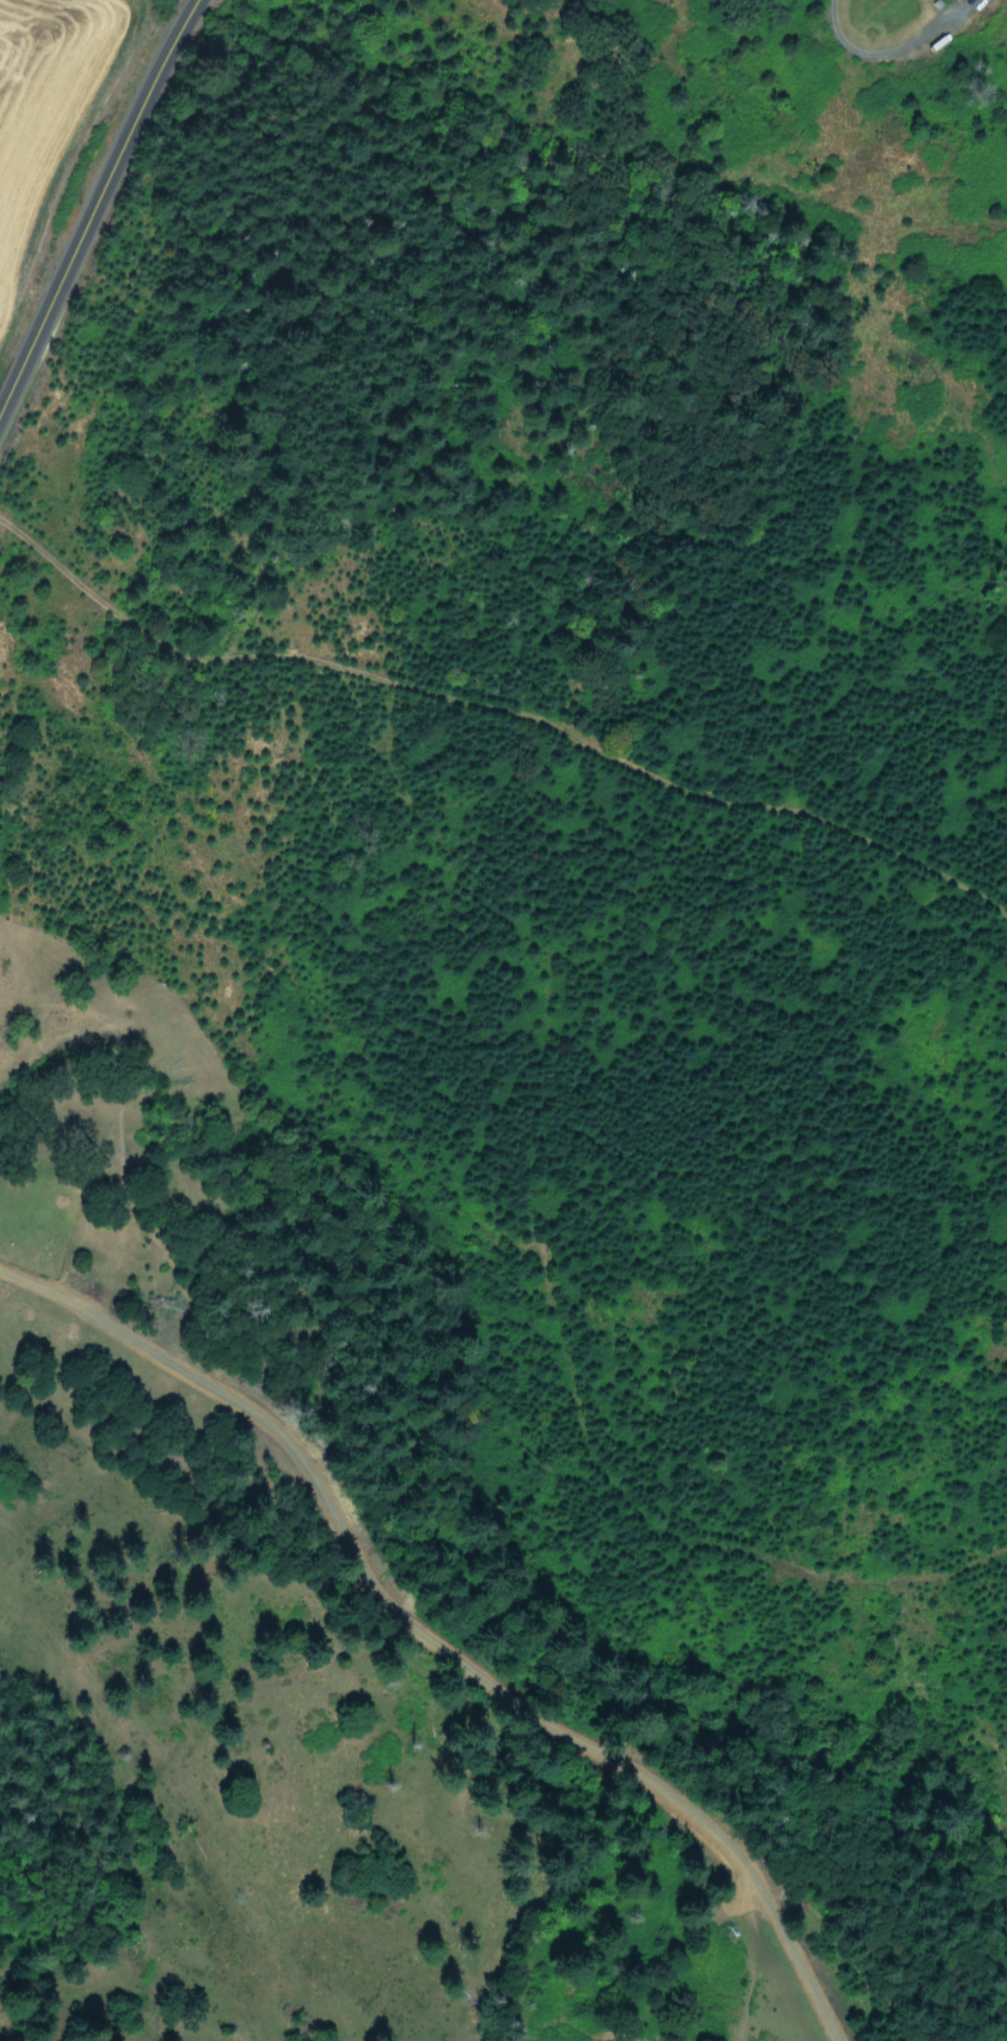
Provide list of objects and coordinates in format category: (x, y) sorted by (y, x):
road: (888, 48)
crop: (56, 112)
road: (96, 204)

